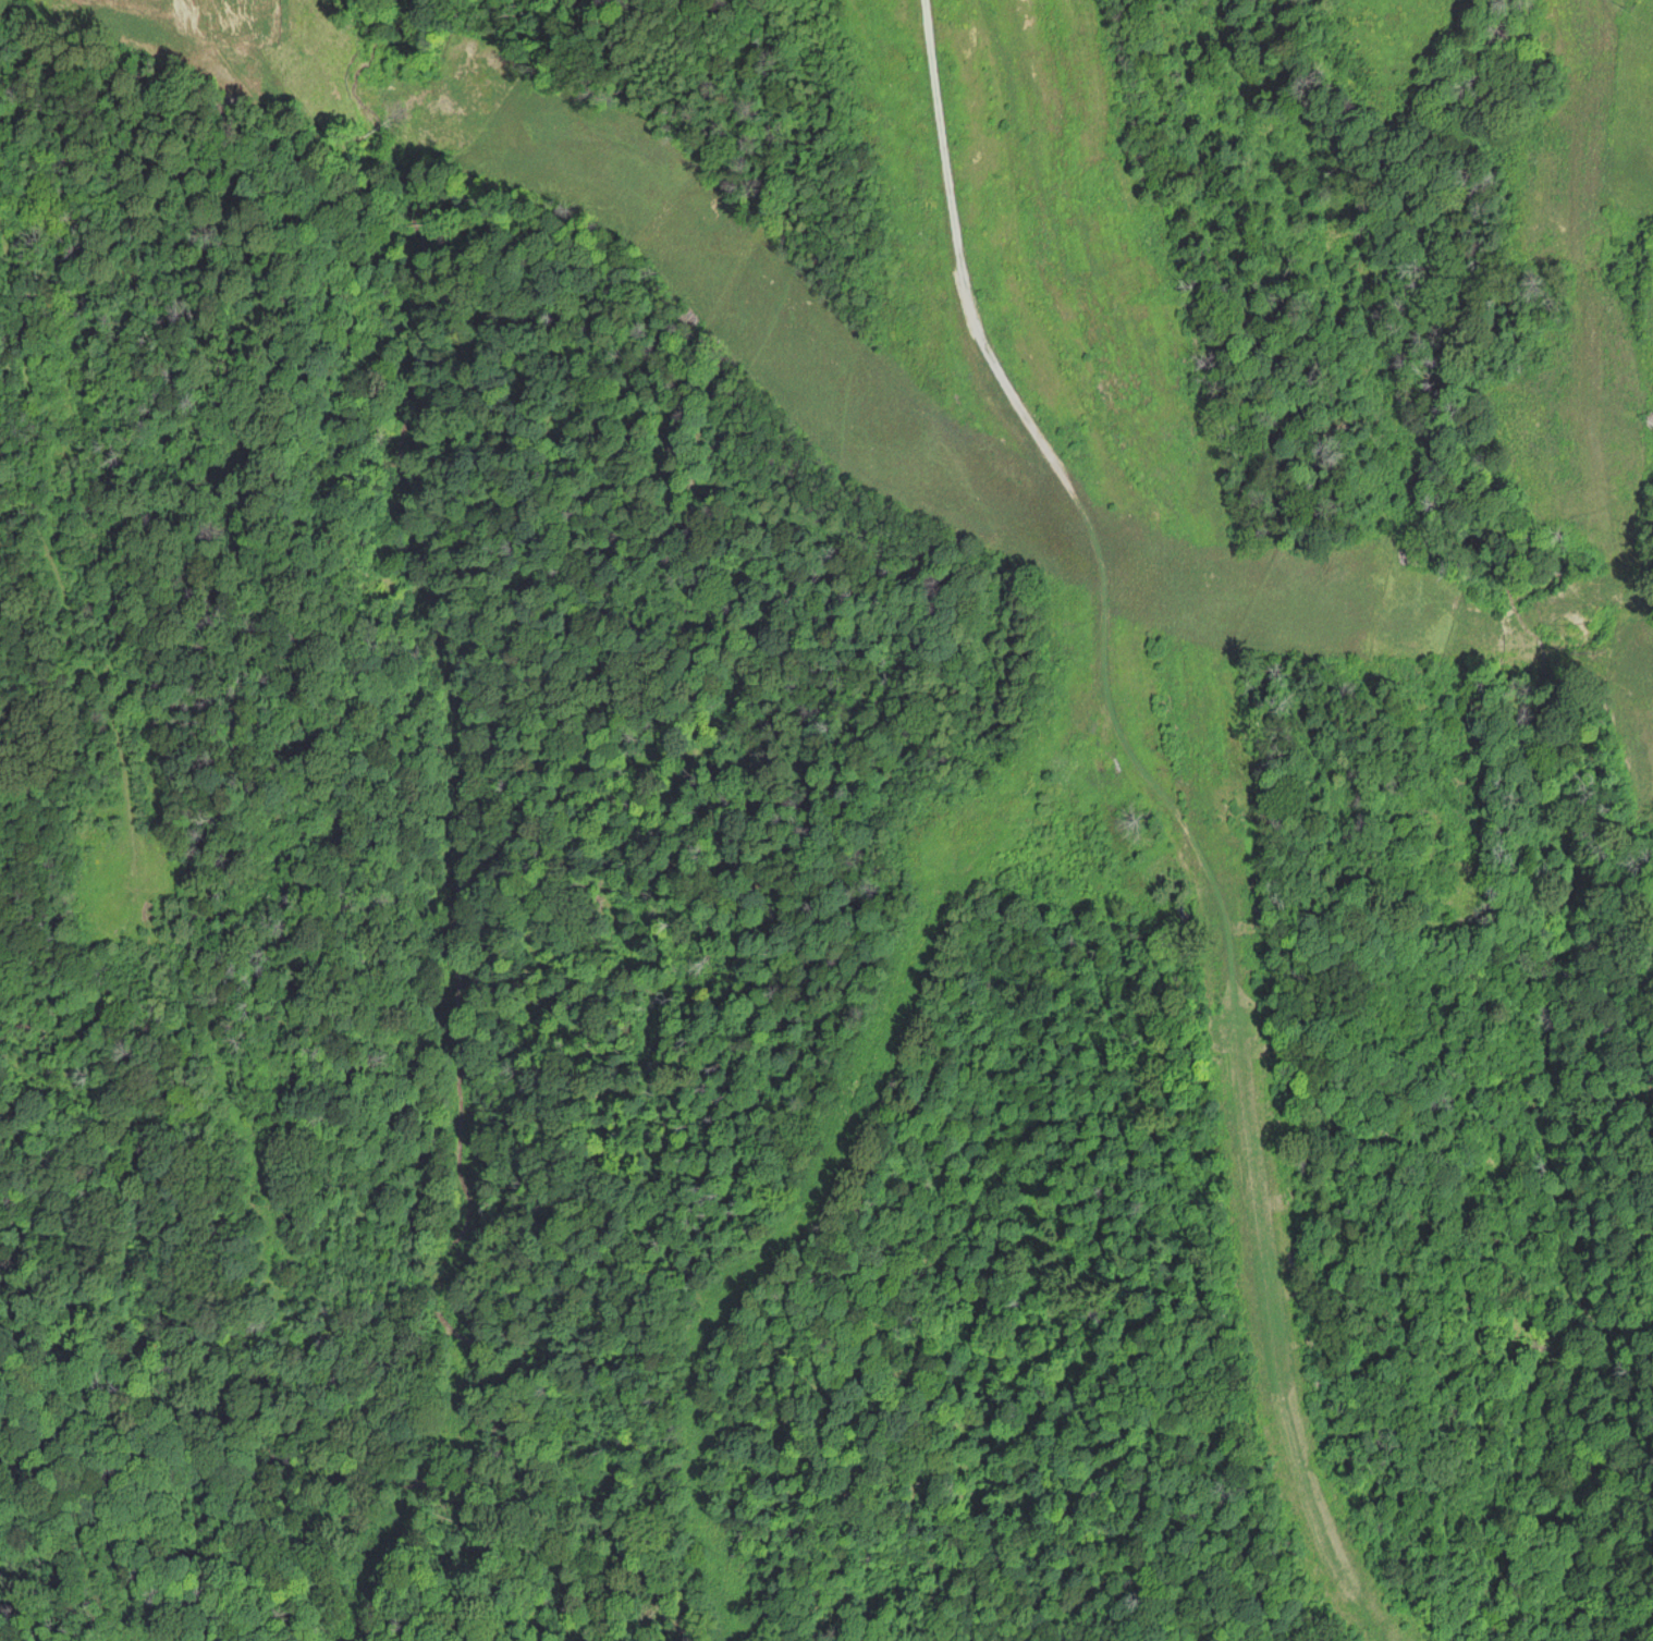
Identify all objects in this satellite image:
road: (1081, 494)

